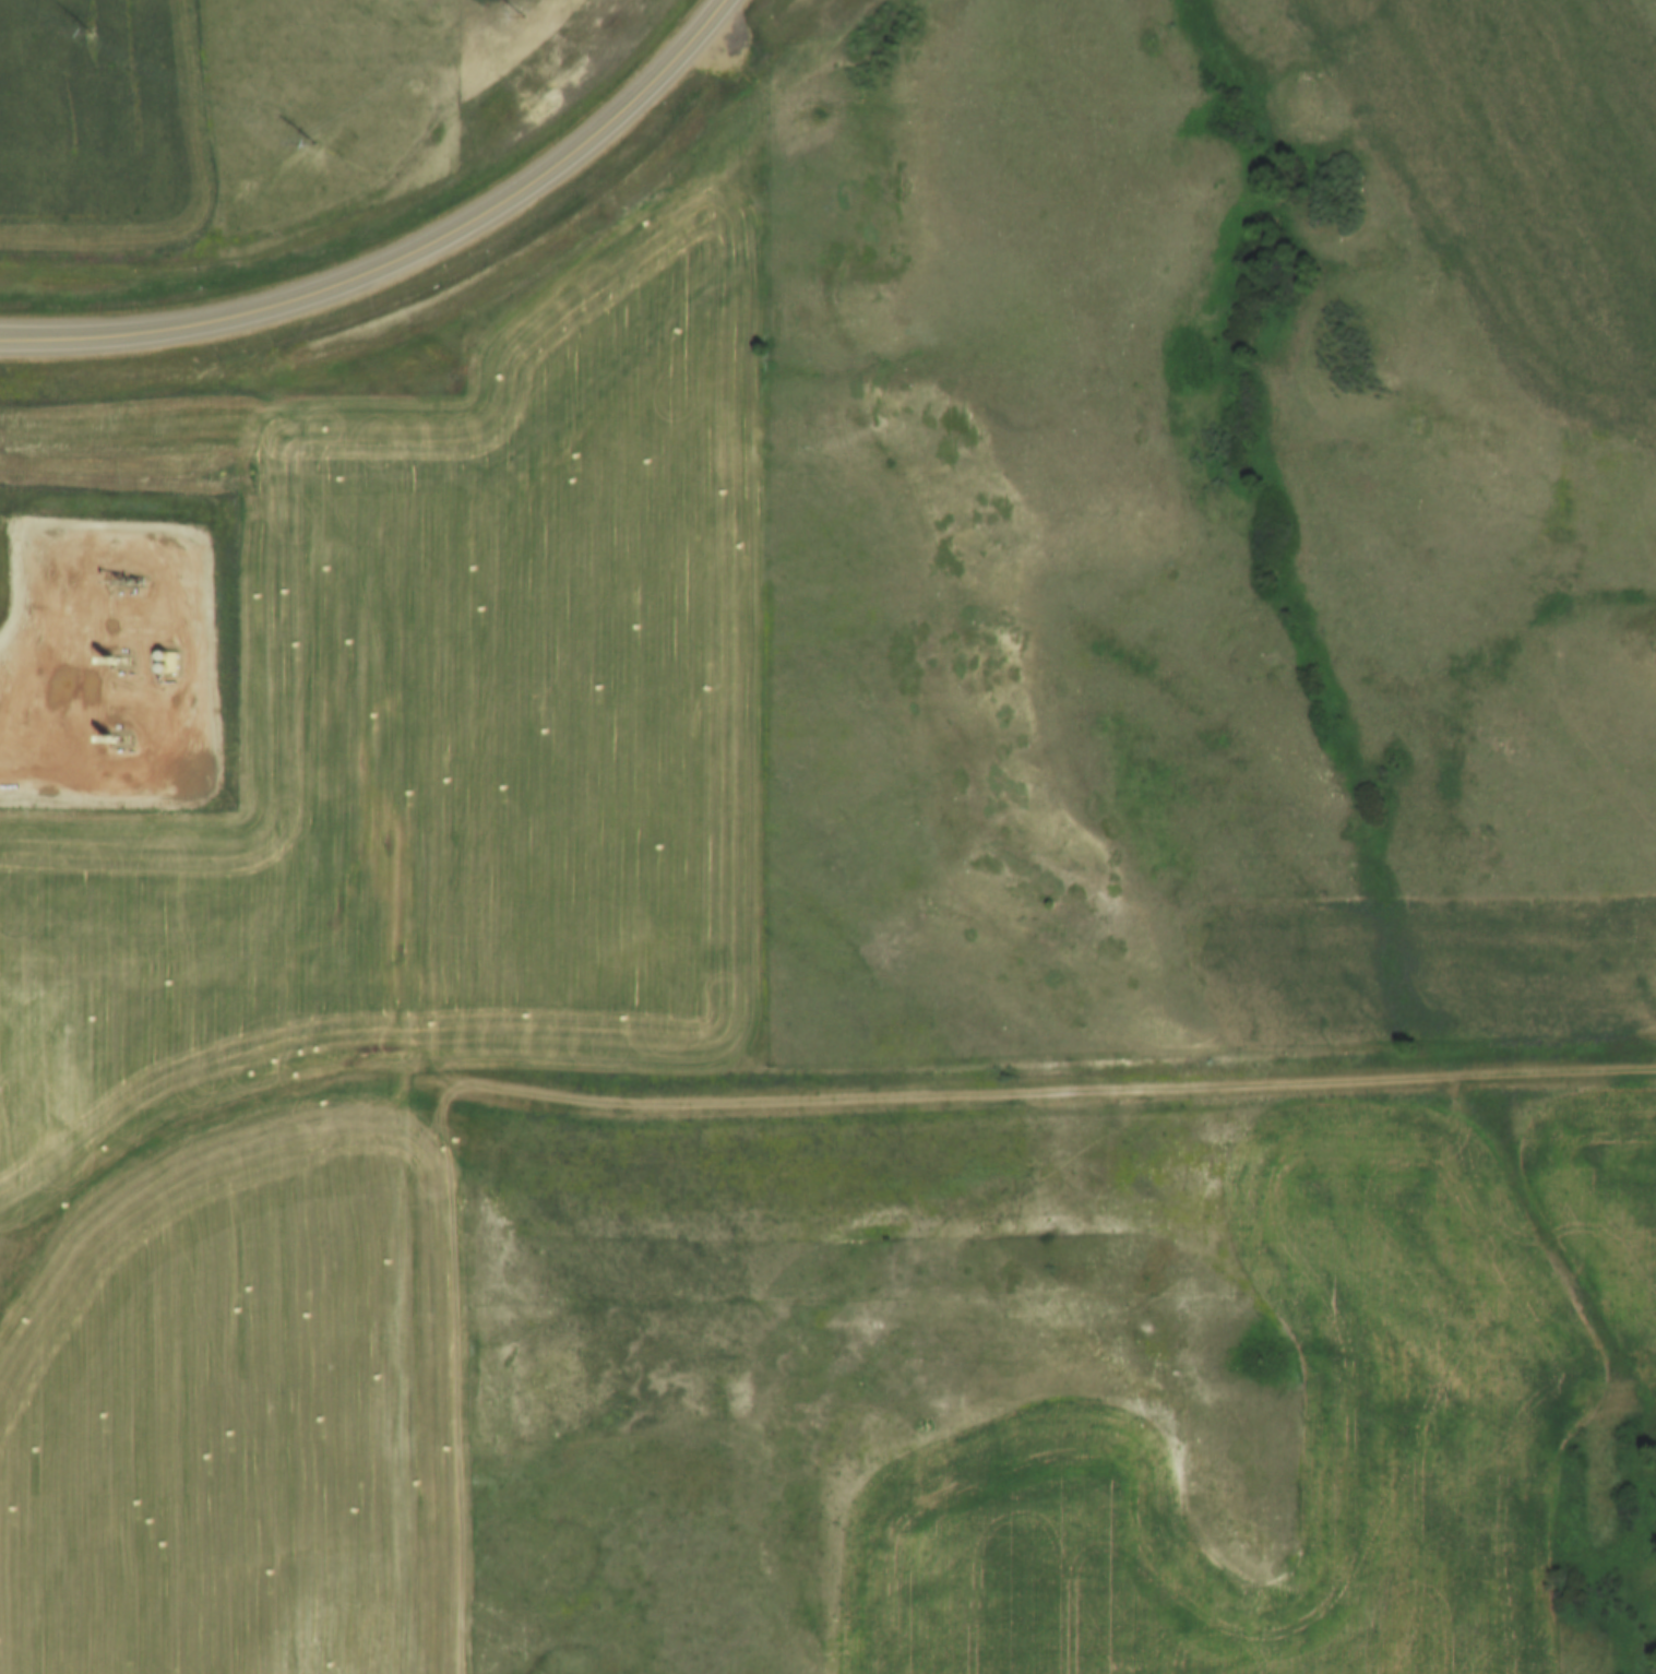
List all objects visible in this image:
road: (408, 274)
petroleum well: (122, 581)
road: (178, 602)
petroleum well: (111, 657)
petroleum well: (109, 739)
road: (760, 1104)
road: (1544, 1245)

